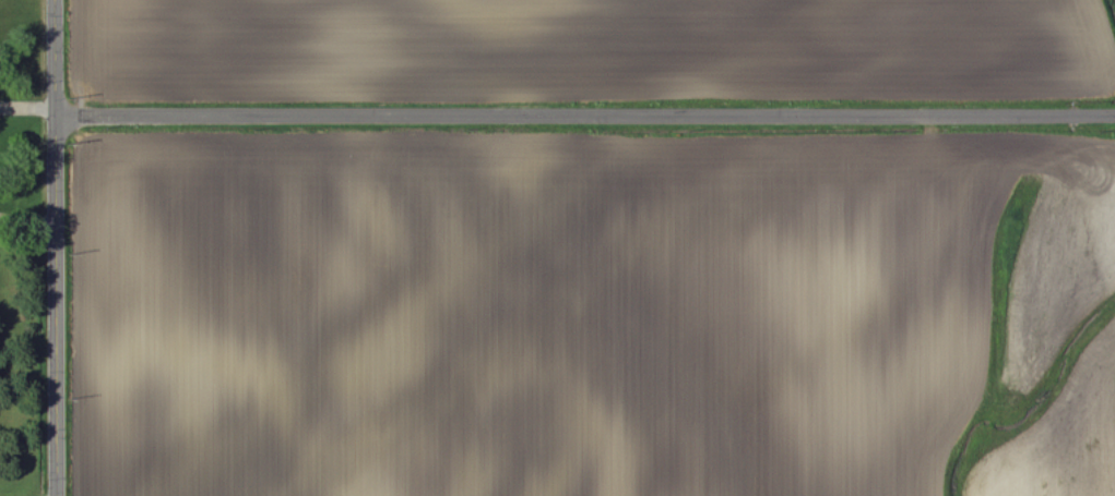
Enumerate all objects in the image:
road: (584, 109)
road: (55, 247)

